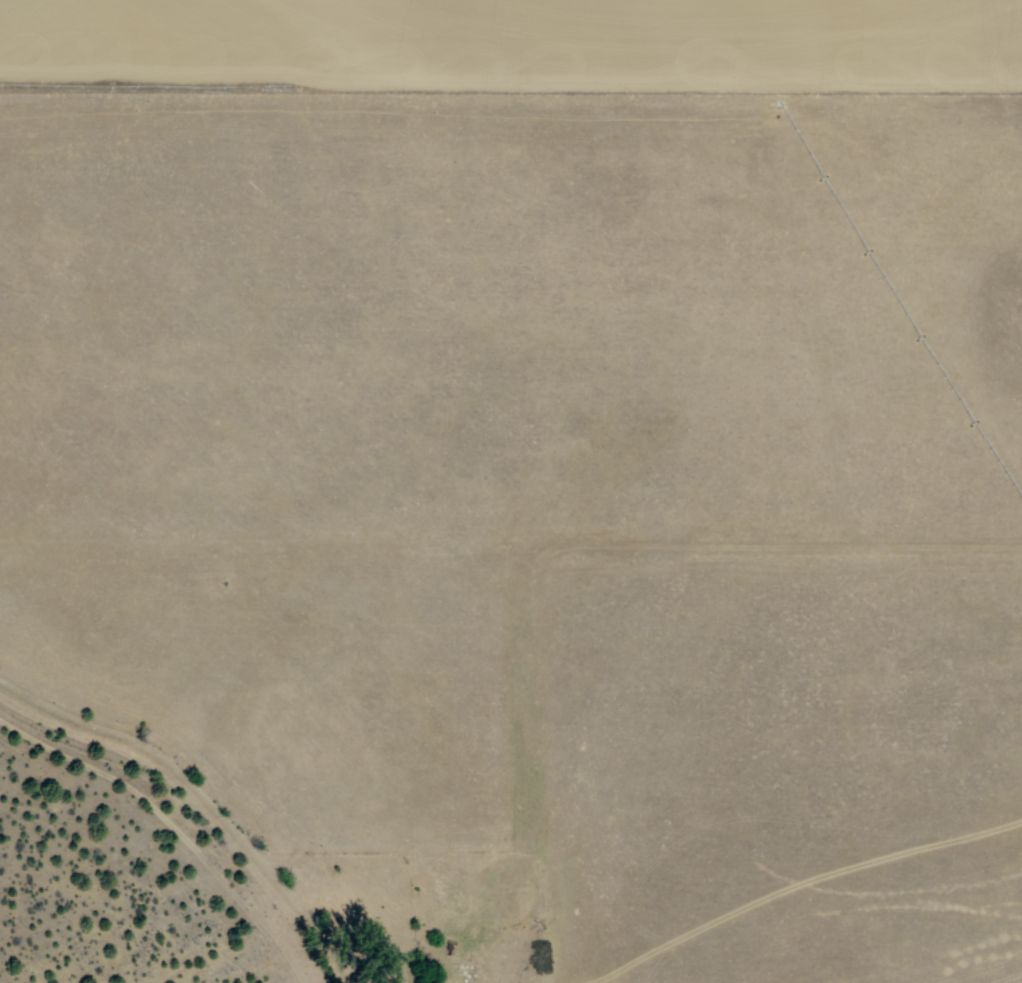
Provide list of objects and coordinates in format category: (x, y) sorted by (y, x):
road: (512, 560)
road: (538, 770)
road: (427, 842)

